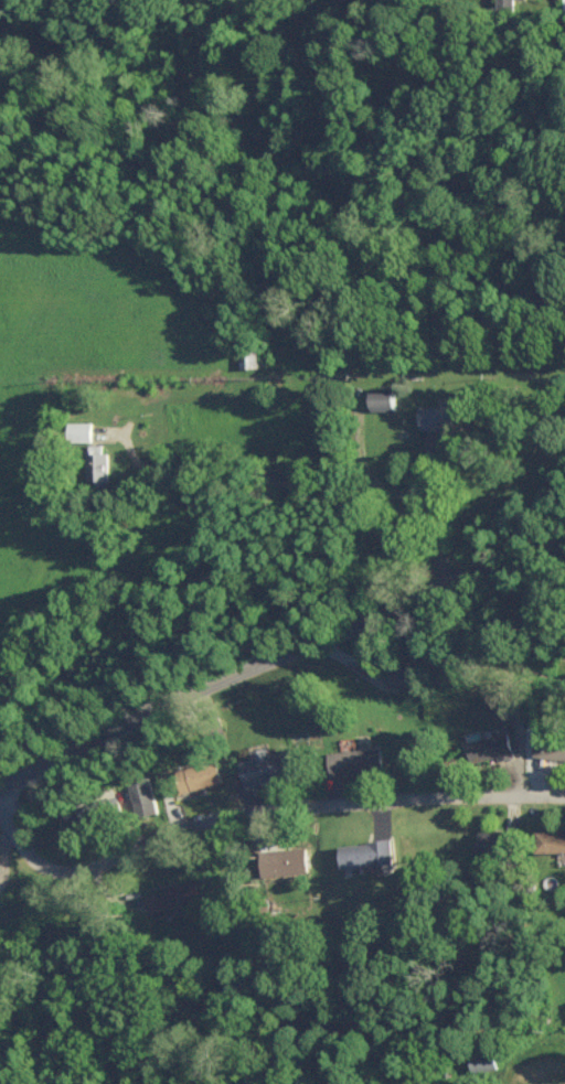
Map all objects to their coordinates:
building: (508, 3)
building: (249, 357)
building: (388, 397)
building: (439, 416)
building: (82, 429)
road: (365, 462)
building: (99, 463)
road: (281, 482)
road: (278, 651)
building: (401, 675)
building: (507, 705)
building: (551, 744)
building: (491, 747)
building: (361, 759)
building: (266, 765)
building: (201, 774)
building: (143, 797)
road: (260, 803)
building: (551, 839)
building: (493, 840)
building: (369, 851)
building: (290, 859)
building: (175, 898)
building: (548, 1073)

